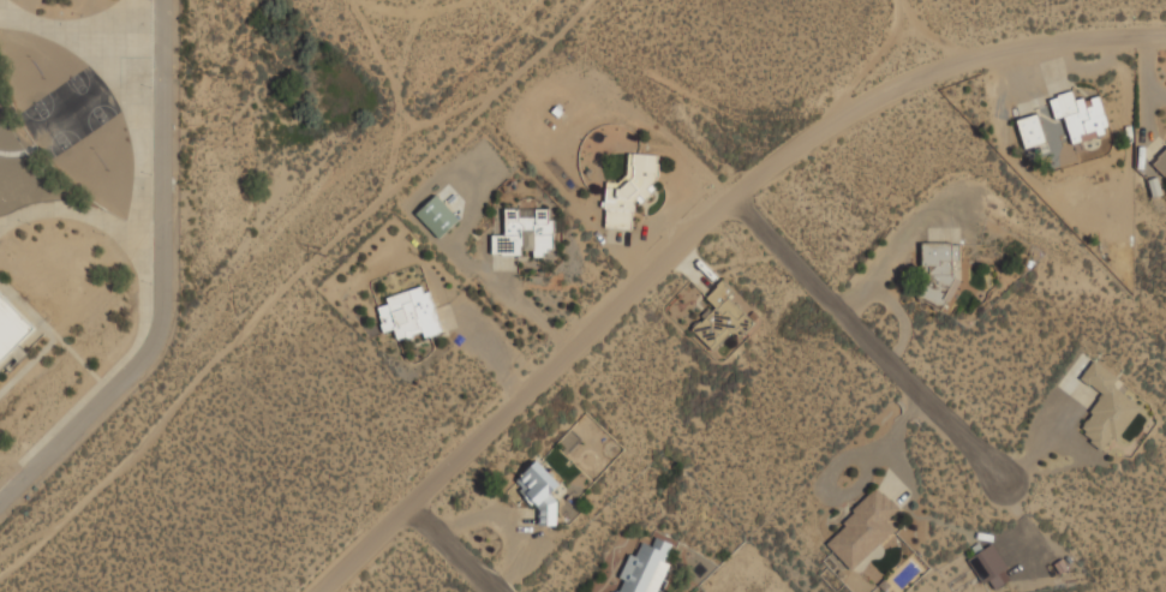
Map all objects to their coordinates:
road: (55, 30)
park: (35, 68)
park: (88, 100)
road: (136, 115)
building: (1080, 116)
park: (50, 125)
building: (1029, 131)
building: (1160, 160)
building: (629, 191)
building: (436, 216)
street lamp: (29, 225)
road: (695, 229)
building: (524, 234)
power tower: (324, 252)
building: (937, 274)
road: (163, 286)
road: (142, 305)
building: (408, 313)
building: (720, 319)
building: (11, 330)
road: (49, 331)
road: (872, 337)
road: (28, 365)
building: (1105, 409)
building: (538, 491)
building: (861, 530)
road: (452, 546)
building: (644, 568)
building: (988, 568)

